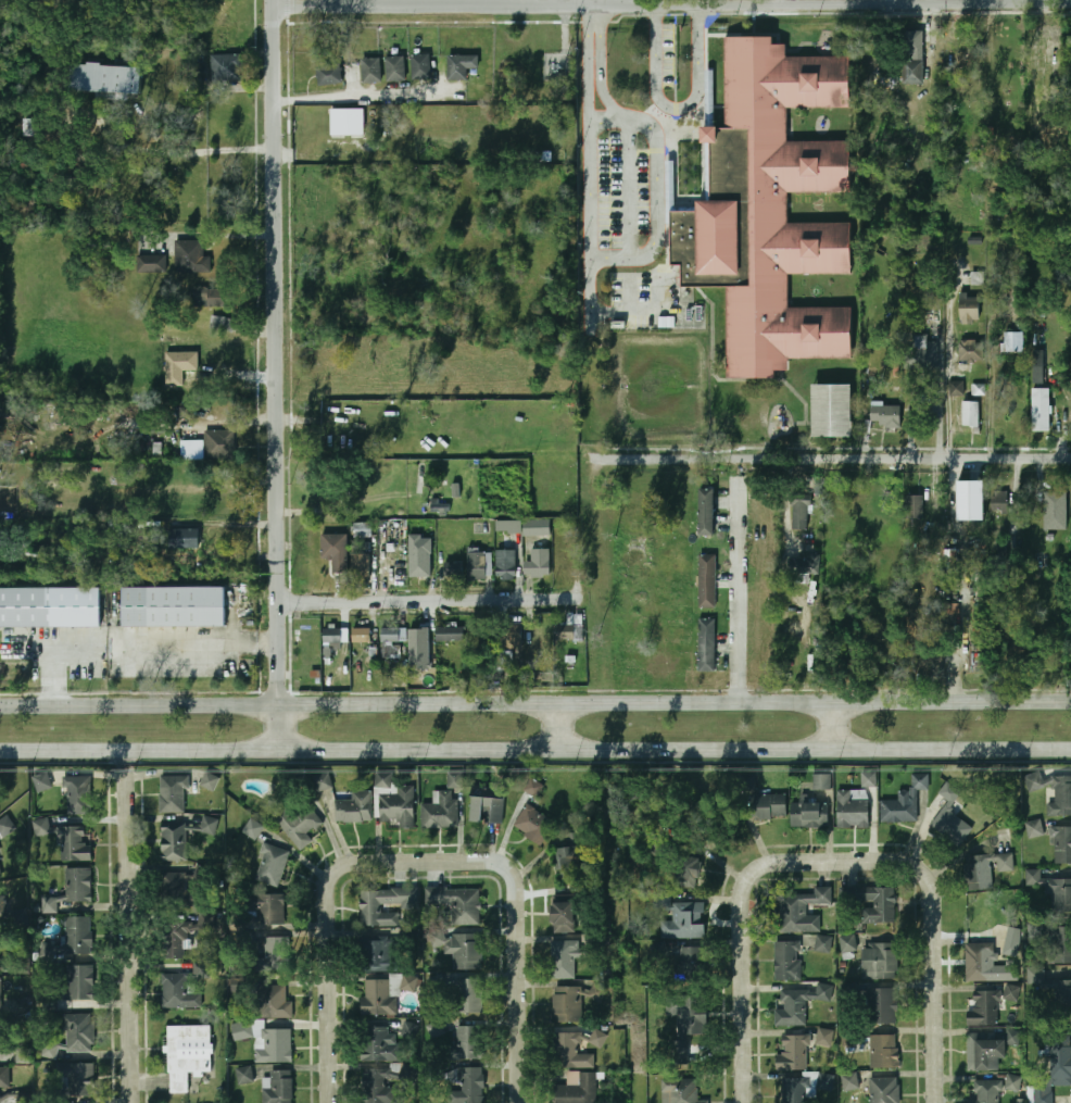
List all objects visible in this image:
road: (829, 2)
road: (429, 4)
building: (461, 65)
building: (395, 66)
building: (420, 66)
building: (227, 68)
building: (371, 70)
building: (913, 72)
building: (328, 74)
building: (104, 78)
road: (361, 97)
road: (677, 109)
road: (603, 113)
building: (349, 122)
road: (657, 142)
road: (181, 163)
road: (629, 184)
road: (589, 206)
building: (772, 211)
building: (189, 256)
building: (150, 264)
building: (211, 297)
building: (970, 310)
building: (220, 323)
building: (1011, 341)
building: (919, 350)
road: (273, 351)
building: (971, 351)
building: (179, 366)
building: (1038, 366)
road: (946, 383)
building: (958, 390)
building: (1041, 409)
building: (833, 410)
building: (970, 414)
building: (885, 416)
building: (219, 443)
building: (192, 450)
road: (831, 456)
building: (971, 499)
building: (1000, 502)
building: (915, 506)
building: (801, 511)
building: (1055, 511)
building: (706, 512)
building: (508, 526)
building: (537, 528)
building: (363, 529)
building: (184, 538)
building: (336, 551)
building: (540, 562)
building: (477, 565)
building: (506, 565)
building: (360, 566)
building: (417, 566)
building: (564, 567)
building: (806, 568)
building: (395, 569)
building: (453, 569)
building: (707, 580)
road: (734, 592)
road: (426, 599)
building: (174, 606)
building: (50, 607)
building: (419, 631)
building: (449, 631)
building: (509, 631)
building: (542, 631)
building: (568, 632)
building: (304, 635)
building: (331, 635)
building: (360, 635)
building: (390, 639)
road: (965, 639)
building: (706, 644)
road: (672, 701)
road: (137, 703)
road: (828, 724)
road: (275, 725)
road: (555, 725)
road: (673, 748)
road: (138, 749)
building: (453, 779)
building: (869, 779)
building: (209, 780)
building: (41, 781)
building: (323, 781)
building: (751, 781)
building: (822, 781)
building: (534, 787)
building: (173, 793)
building: (77, 794)
building: (1062, 797)
building: (393, 801)
building: (904, 802)
building: (487, 804)
building: (353, 805)
building: (768, 806)
building: (853, 807)
building: (440, 810)
building: (948, 814)
building: (809, 815)
building: (294, 822)
building: (533, 824)
building: (7, 825)
building: (207, 825)
building: (1034, 828)
building: (252, 829)
building: (173, 841)
building: (74, 843)
building: (1061, 845)
building: (568, 863)
building: (1005, 863)
building: (680, 865)
building: (272, 866)
building: (976, 873)
building: (0, 876)
road: (747, 881)
building: (71, 889)
building: (177, 890)
building: (1054, 890)
building: (870, 902)
building: (456, 903)
building: (385, 905)
building: (798, 907)
building: (266, 908)
building: (1, 911)
building: (563, 917)
building: (17, 918)
building: (680, 918)
building: (988, 918)
road: (129, 926)
road: (328, 937)
building: (72, 938)
building: (174, 940)
road: (518, 943)
building: (823, 943)
building: (847, 943)
building: (1059, 945)
building: (459, 949)
building: (380, 953)
building: (275, 954)
building: (563, 960)
building: (786, 962)
building: (879, 962)
building: (978, 963)
building: (690, 964)
building: (1035, 976)
building: (67, 986)
building: (177, 992)
building: (1010, 992)
building: (386, 993)
building: (467, 995)
building: (0, 997)
building: (1058, 997)
building: (273, 1002)
building: (798, 1003)
road: (936, 1003)
building: (566, 1005)
building: (881, 1006)
building: (984, 1010)
building: (685, 1021)
building: (411, 1029)
building: (242, 1030)
building: (78, 1032)
building: (824, 1039)
building: (466, 1043)
building: (377, 1044)
building: (273, 1045)
building: (575, 1049)
building: (986, 1051)
building: (884, 1052)
building: (793, 1053)
building: (186, 1054)
building: (1061, 1057)
building: (243, 1076)
building: (4, 1077)
building: (75, 1078)
building: (850, 1081)
building: (826, 1082)
building: (1012, 1083)
building: (378, 1085)
building: (466, 1086)
building: (277, 1088)
building: (577, 1088)
building: (794, 1090)
building: (883, 1090)
building: (983, 1090)
building: (679, 1091)
building: (1044, 1094)

